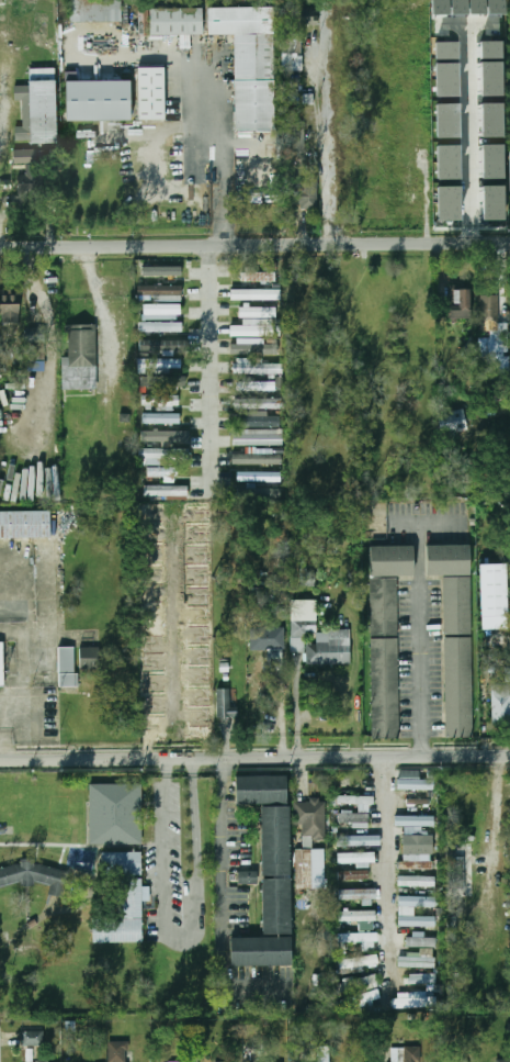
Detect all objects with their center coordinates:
building: (95, 10)
building: (301, 15)
road: (467, 20)
building: (175, 21)
building: (144, 22)
building: (445, 49)
building: (291, 52)
building: (249, 62)
building: (490, 78)
building: (445, 79)
building: (150, 92)
building: (98, 100)
building: (36, 107)
building: (446, 120)
building: (491, 120)
road: (467, 130)
road: (325, 138)
building: (294, 139)
road: (227, 145)
building: (24, 155)
building: (491, 160)
building: (446, 161)
building: (509, 161)
building: (27, 181)
building: (304, 191)
building: (447, 202)
building: (492, 202)
road: (254, 239)
building: (257, 276)
building: (159, 292)
building: (254, 294)
building: (458, 303)
building: (9, 308)
building: (487, 309)
building: (160, 311)
building: (257, 312)
building: (159, 326)
building: (256, 327)
building: (34, 333)
building: (163, 345)
building: (251, 347)
building: (79, 358)
building: (169, 362)
building: (256, 366)
road: (212, 368)
building: (172, 380)
building: (279, 382)
building: (254, 384)
building: (258, 402)
building: (160, 417)
building: (259, 418)
building: (451, 421)
building: (166, 436)
building: (258, 437)
building: (158, 454)
building: (257, 458)
building: (160, 471)
building: (258, 476)
building: (165, 490)
building: (259, 491)
building: (24, 525)
building: (446, 559)
building: (306, 577)
building: (492, 595)
building: (302, 623)
building: (385, 635)
building: (269, 641)
building: (322, 644)
road: (422, 650)
building: (90, 658)
building: (149, 660)
building: (1, 666)
building: (67, 667)
building: (458, 686)
building: (225, 704)
building: (500, 705)
building: (160, 707)
road: (5, 724)
road: (254, 758)
building: (416, 785)
building: (260, 790)
building: (355, 801)
building: (416, 804)
building: (114, 814)
building: (311, 818)
building: (353, 819)
building: (416, 821)
building: (413, 830)
building: (358, 841)
building: (418, 845)
building: (356, 858)
building: (417, 865)
road: (386, 869)
building: (305, 870)
building: (275, 871)
building: (454, 873)
building: (36, 875)
building: (354, 875)
building: (247, 877)
building: (417, 881)
building: (358, 894)
building: (120, 899)
building: (417, 901)
road: (220, 902)
building: (358, 916)
building: (417, 920)
building: (356, 941)
building: (421, 941)
road: (185, 944)
building: (260, 951)
building: (417, 961)
building: (359, 962)
building: (421, 979)
building: (358, 984)
building: (361, 998)
building: (416, 998)
building: (31, 1037)
building: (117, 1051)
building: (322, 1054)
building: (412, 1054)
building: (503, 1060)
building: (173, 1061)
building: (212, 1061)

